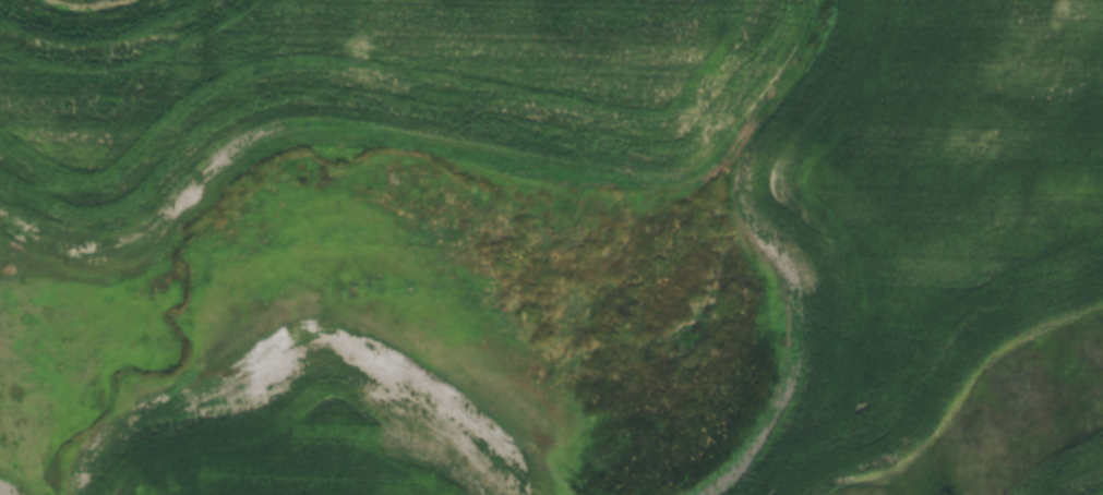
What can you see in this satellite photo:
road: (962, 403)

